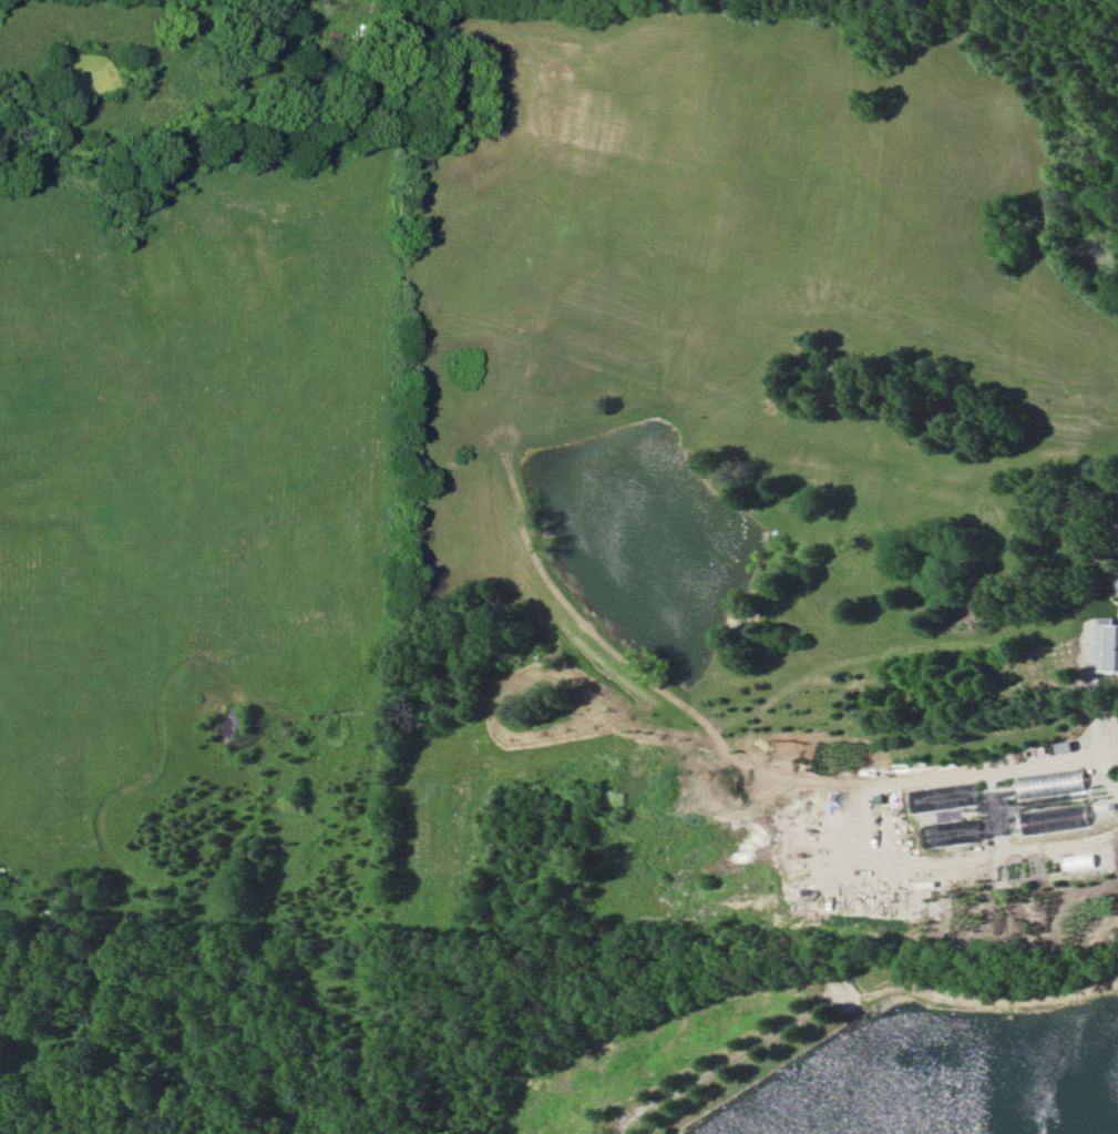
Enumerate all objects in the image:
road: (397, 3)
building: (1117, 581)
building: (1107, 644)
road: (1091, 707)
building: (1044, 784)
building: (940, 839)
road: (1073, 846)
road: (745, 1055)
building: (659, 1133)

